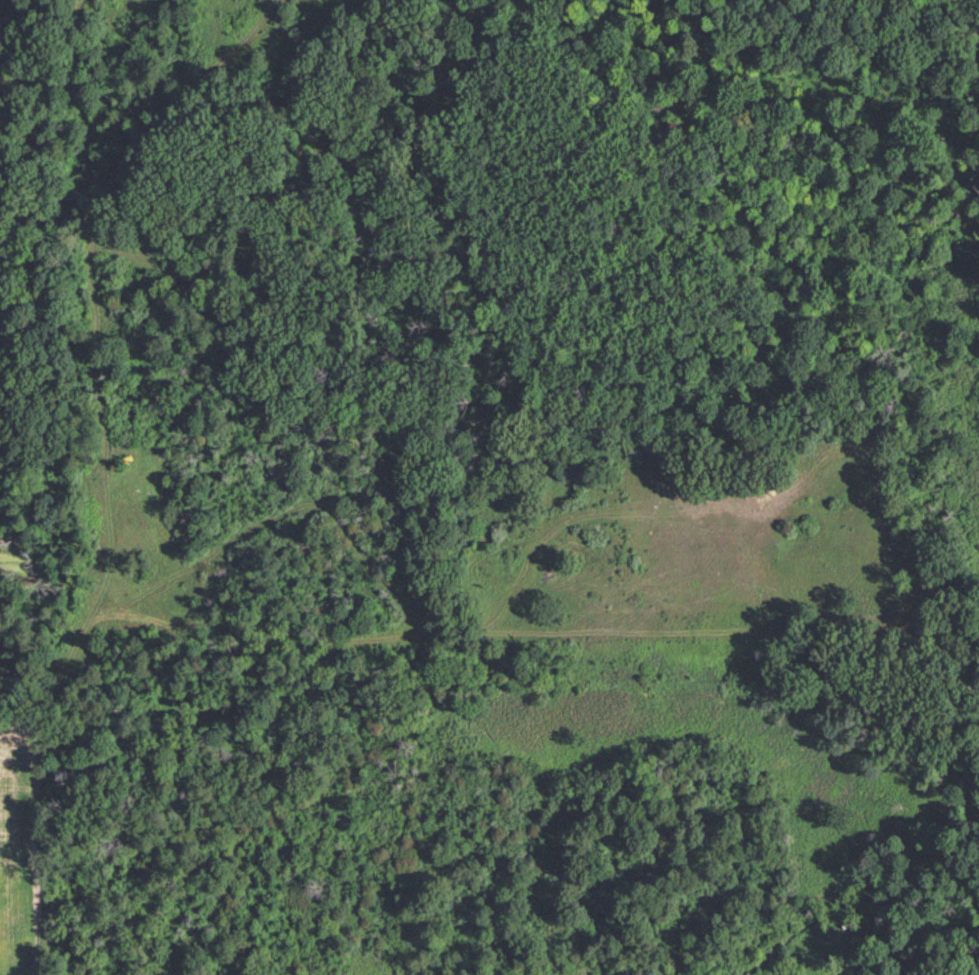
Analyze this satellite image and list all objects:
crop: (10, 847)

